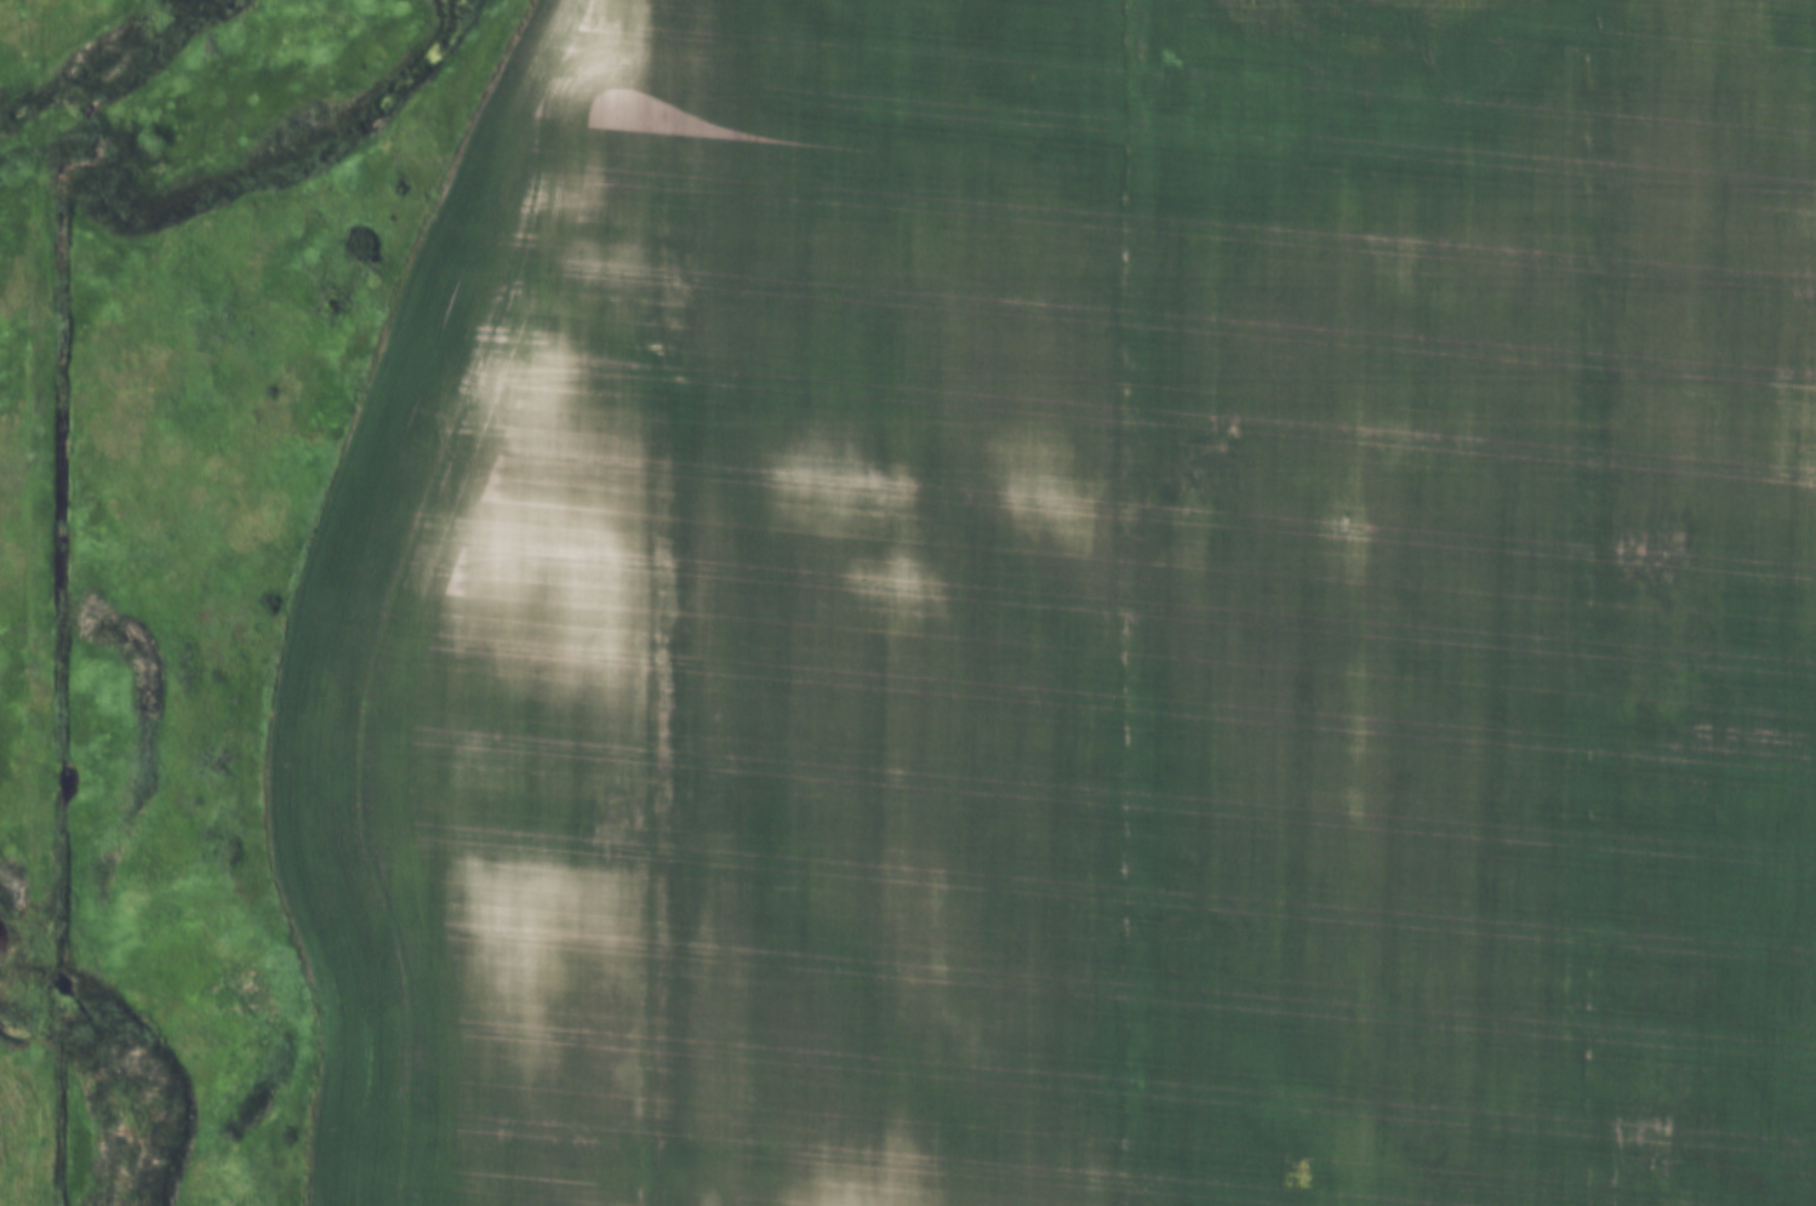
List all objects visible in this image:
road: (316, 587)

